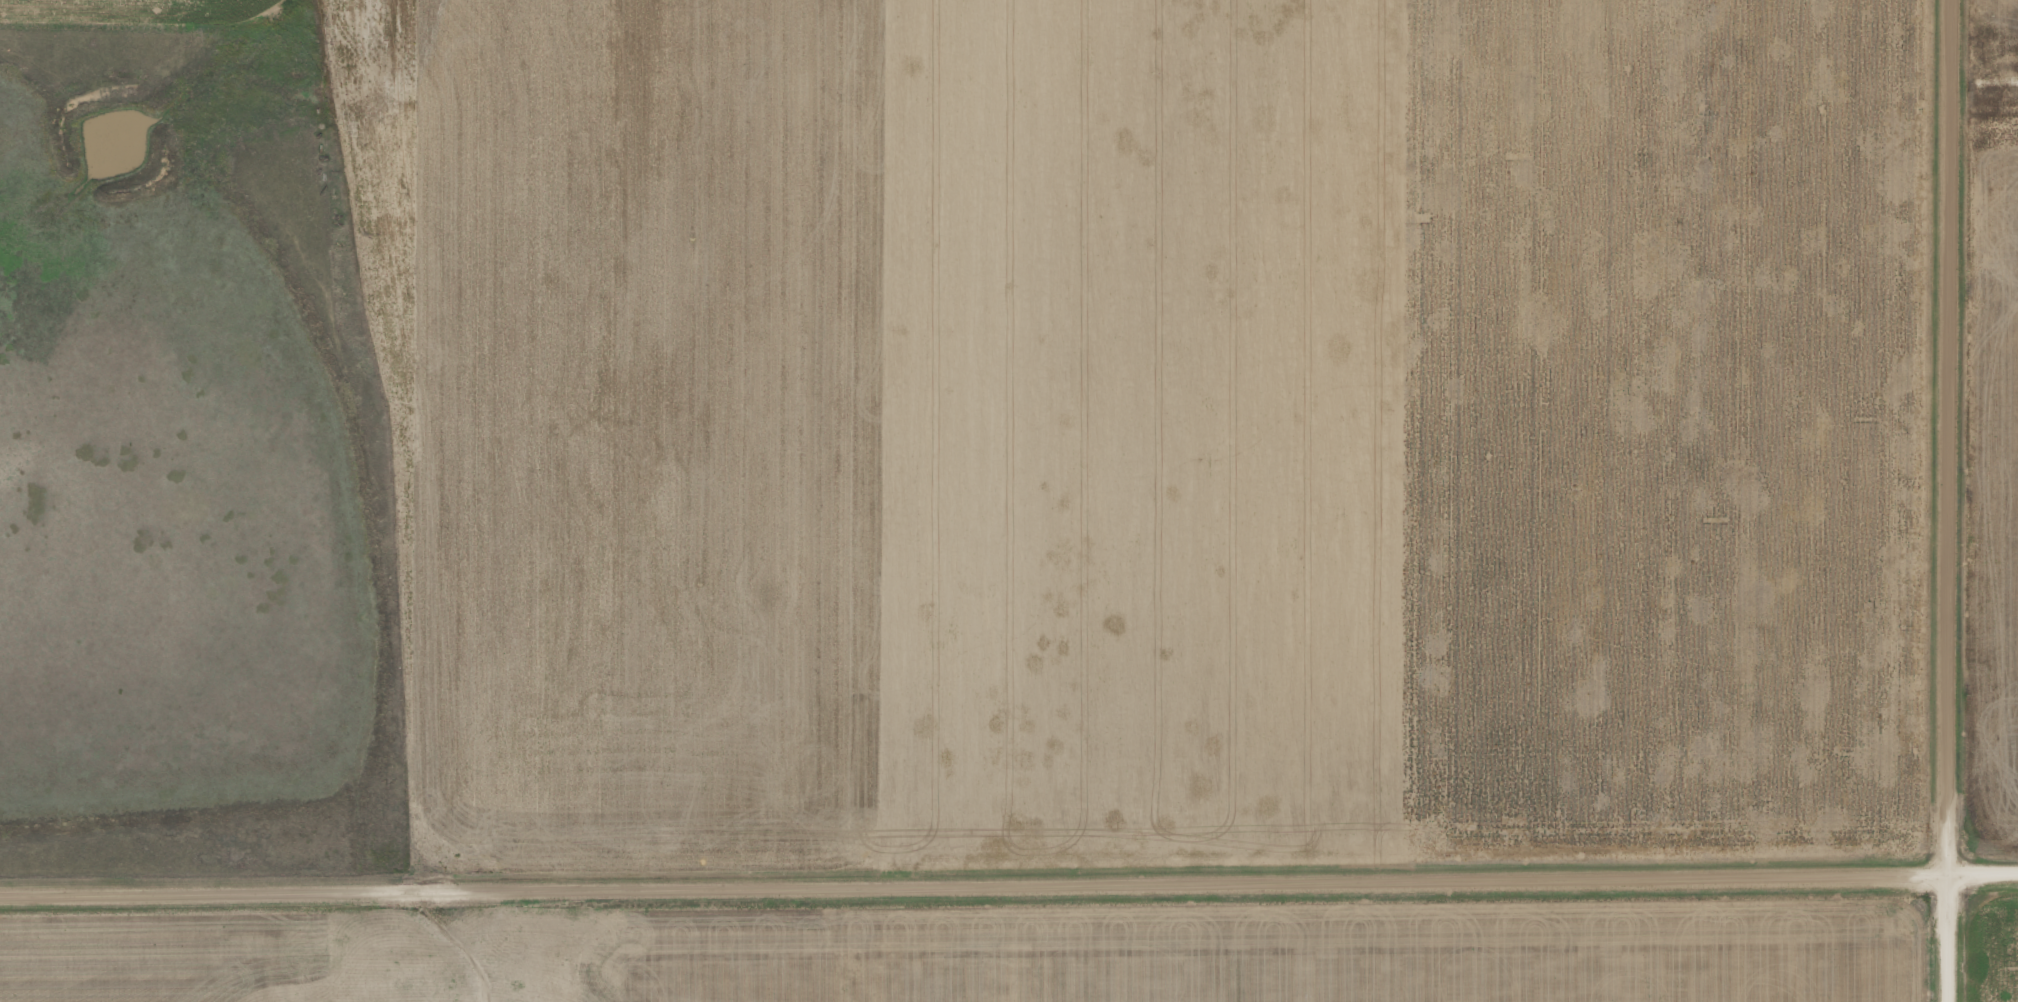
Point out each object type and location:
road: (1948, 500)
road: (1008, 882)

